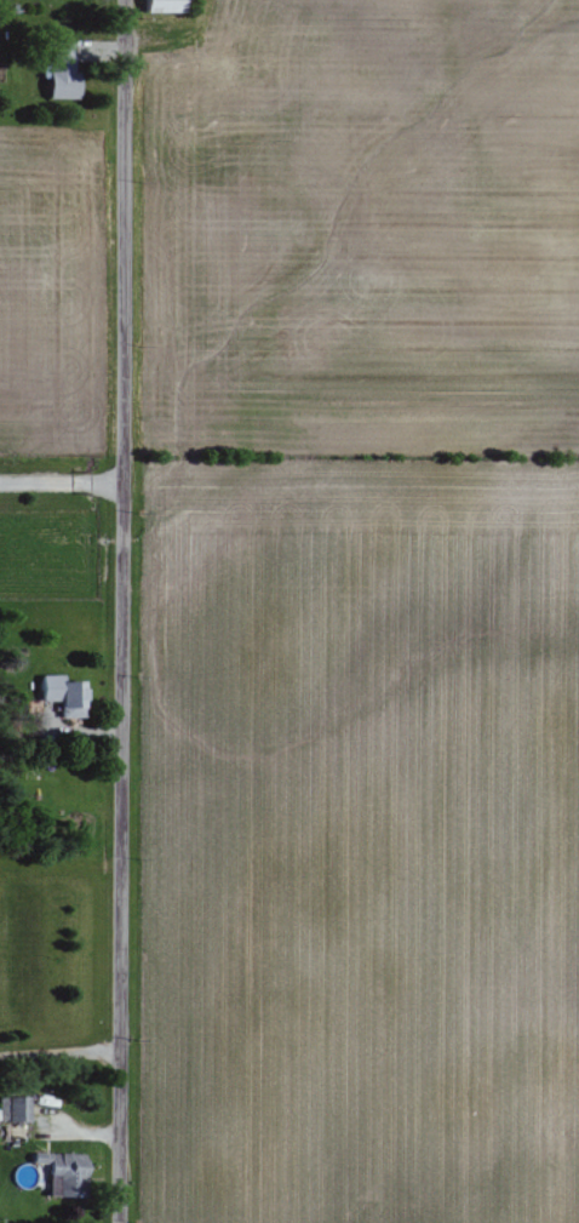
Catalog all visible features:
building: (166, 6)
road: (63, 482)
road: (127, 611)
building: (65, 696)
road: (64, 1058)
building: (15, 1108)
building: (64, 1172)

